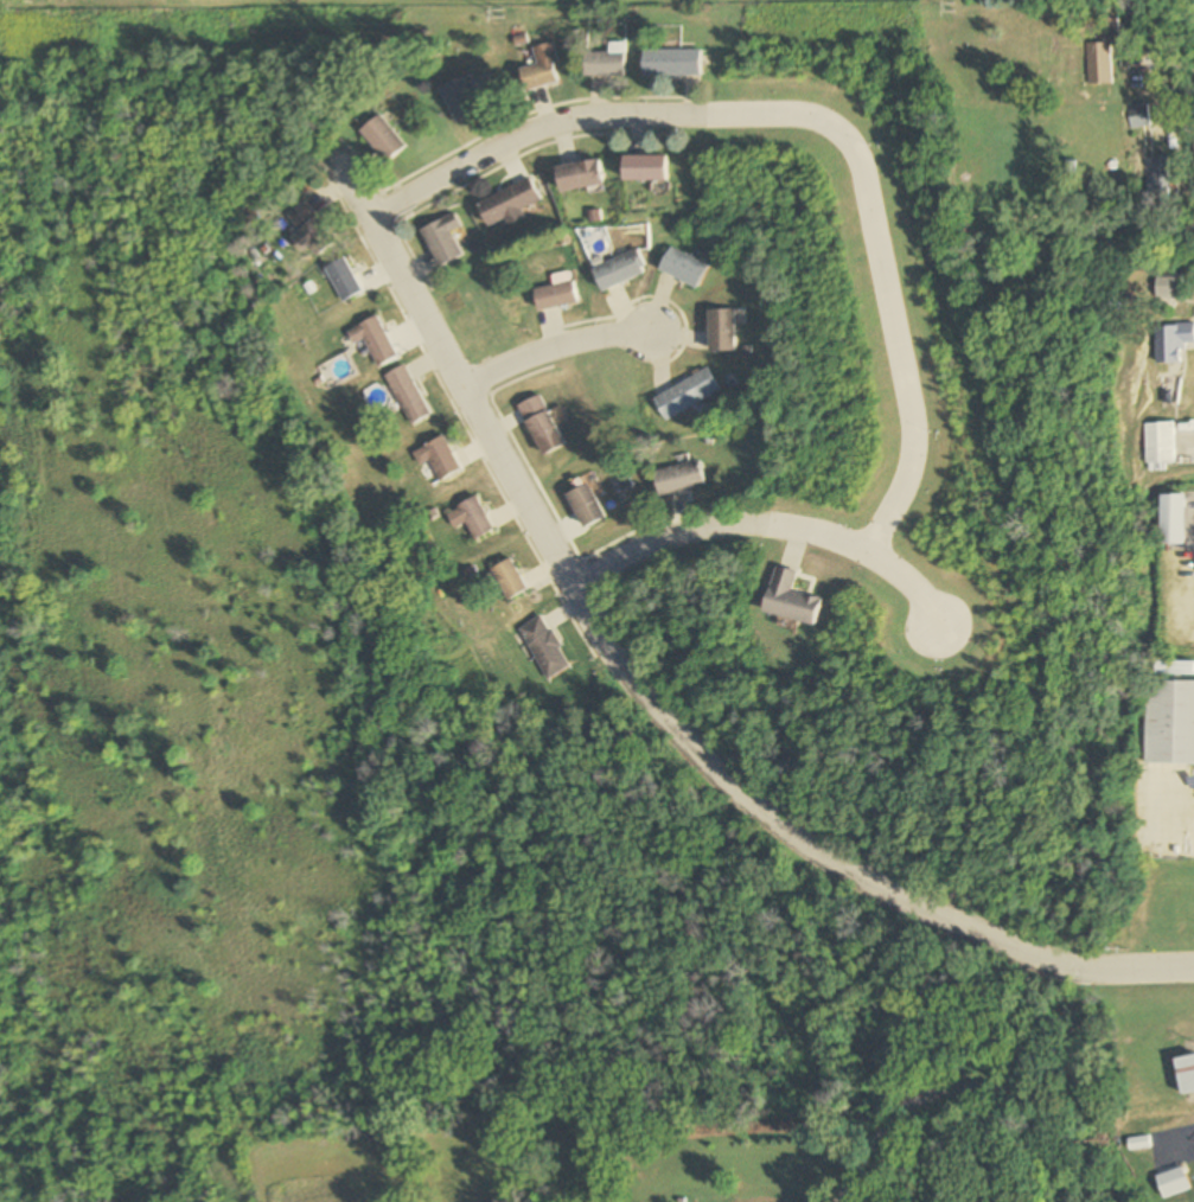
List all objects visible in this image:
building: (605, 63)
building: (670, 64)
building: (1099, 65)
building: (542, 70)
building: (466, 97)
building: (1138, 116)
road: (811, 119)
building: (383, 139)
building: (643, 168)
building: (579, 175)
building: (1162, 183)
building: (509, 205)
building: (308, 231)
building: (445, 241)
building: (682, 269)
building: (618, 273)
building: (343, 281)
building: (1169, 287)
building: (555, 295)
building: (720, 332)
building: (373, 341)
building: (1171, 343)
road: (555, 345)
building: (685, 395)
building: (407, 396)
building: (542, 427)
building: (1158, 442)
building: (436, 460)
building: (679, 479)
building: (586, 506)
building: (475, 516)
building: (1174, 518)
road: (768, 526)
building: (509, 577)
building: (791, 597)
building: (544, 647)
building: (1176, 669)
road: (651, 701)
building: (1170, 722)
building: (1170, 836)
building: (1187, 1073)
road: (960, 1091)

